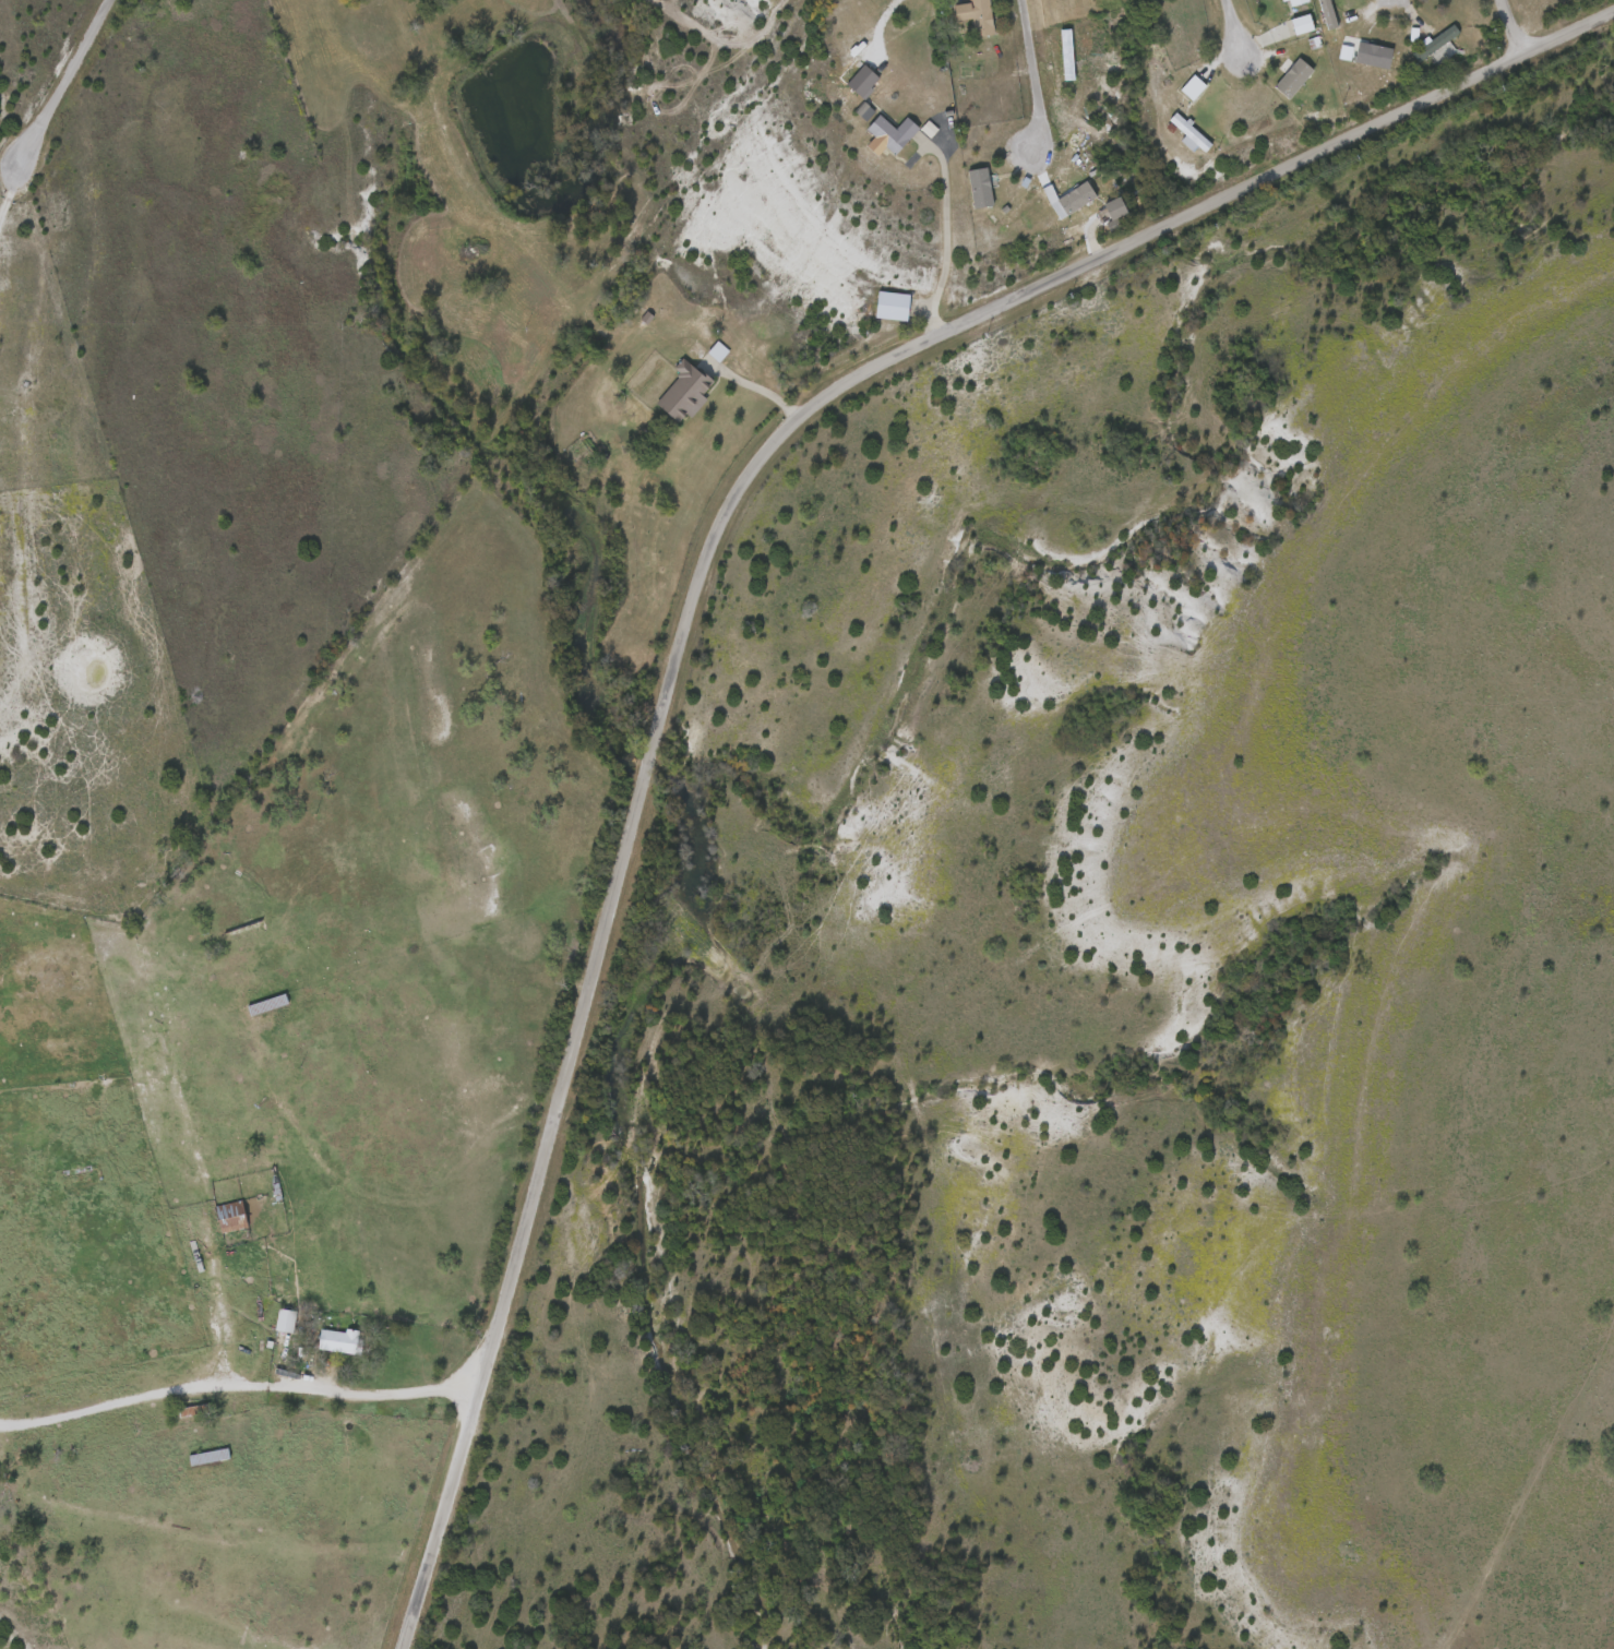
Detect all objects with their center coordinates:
building: (1293, 2)
building: (1327, 13)
building: (975, 15)
building: (1301, 24)
road: (877, 25)
road: (1508, 26)
road: (1231, 27)
building: (1435, 41)
building: (1373, 55)
road: (1029, 77)
building: (1293, 77)
road: (60, 83)
building: (892, 132)
building: (1189, 132)
building: (980, 187)
road: (8, 190)
building: (1077, 198)
road: (945, 231)
building: (892, 304)
road: (754, 384)
building: (684, 391)
road: (694, 578)
building: (266, 1004)
road: (148, 1018)
building: (80, 1179)
building: (230, 1215)
building: (285, 1318)
building: (339, 1339)
road: (235, 1384)
building: (207, 1455)
road: (91, 1513)

